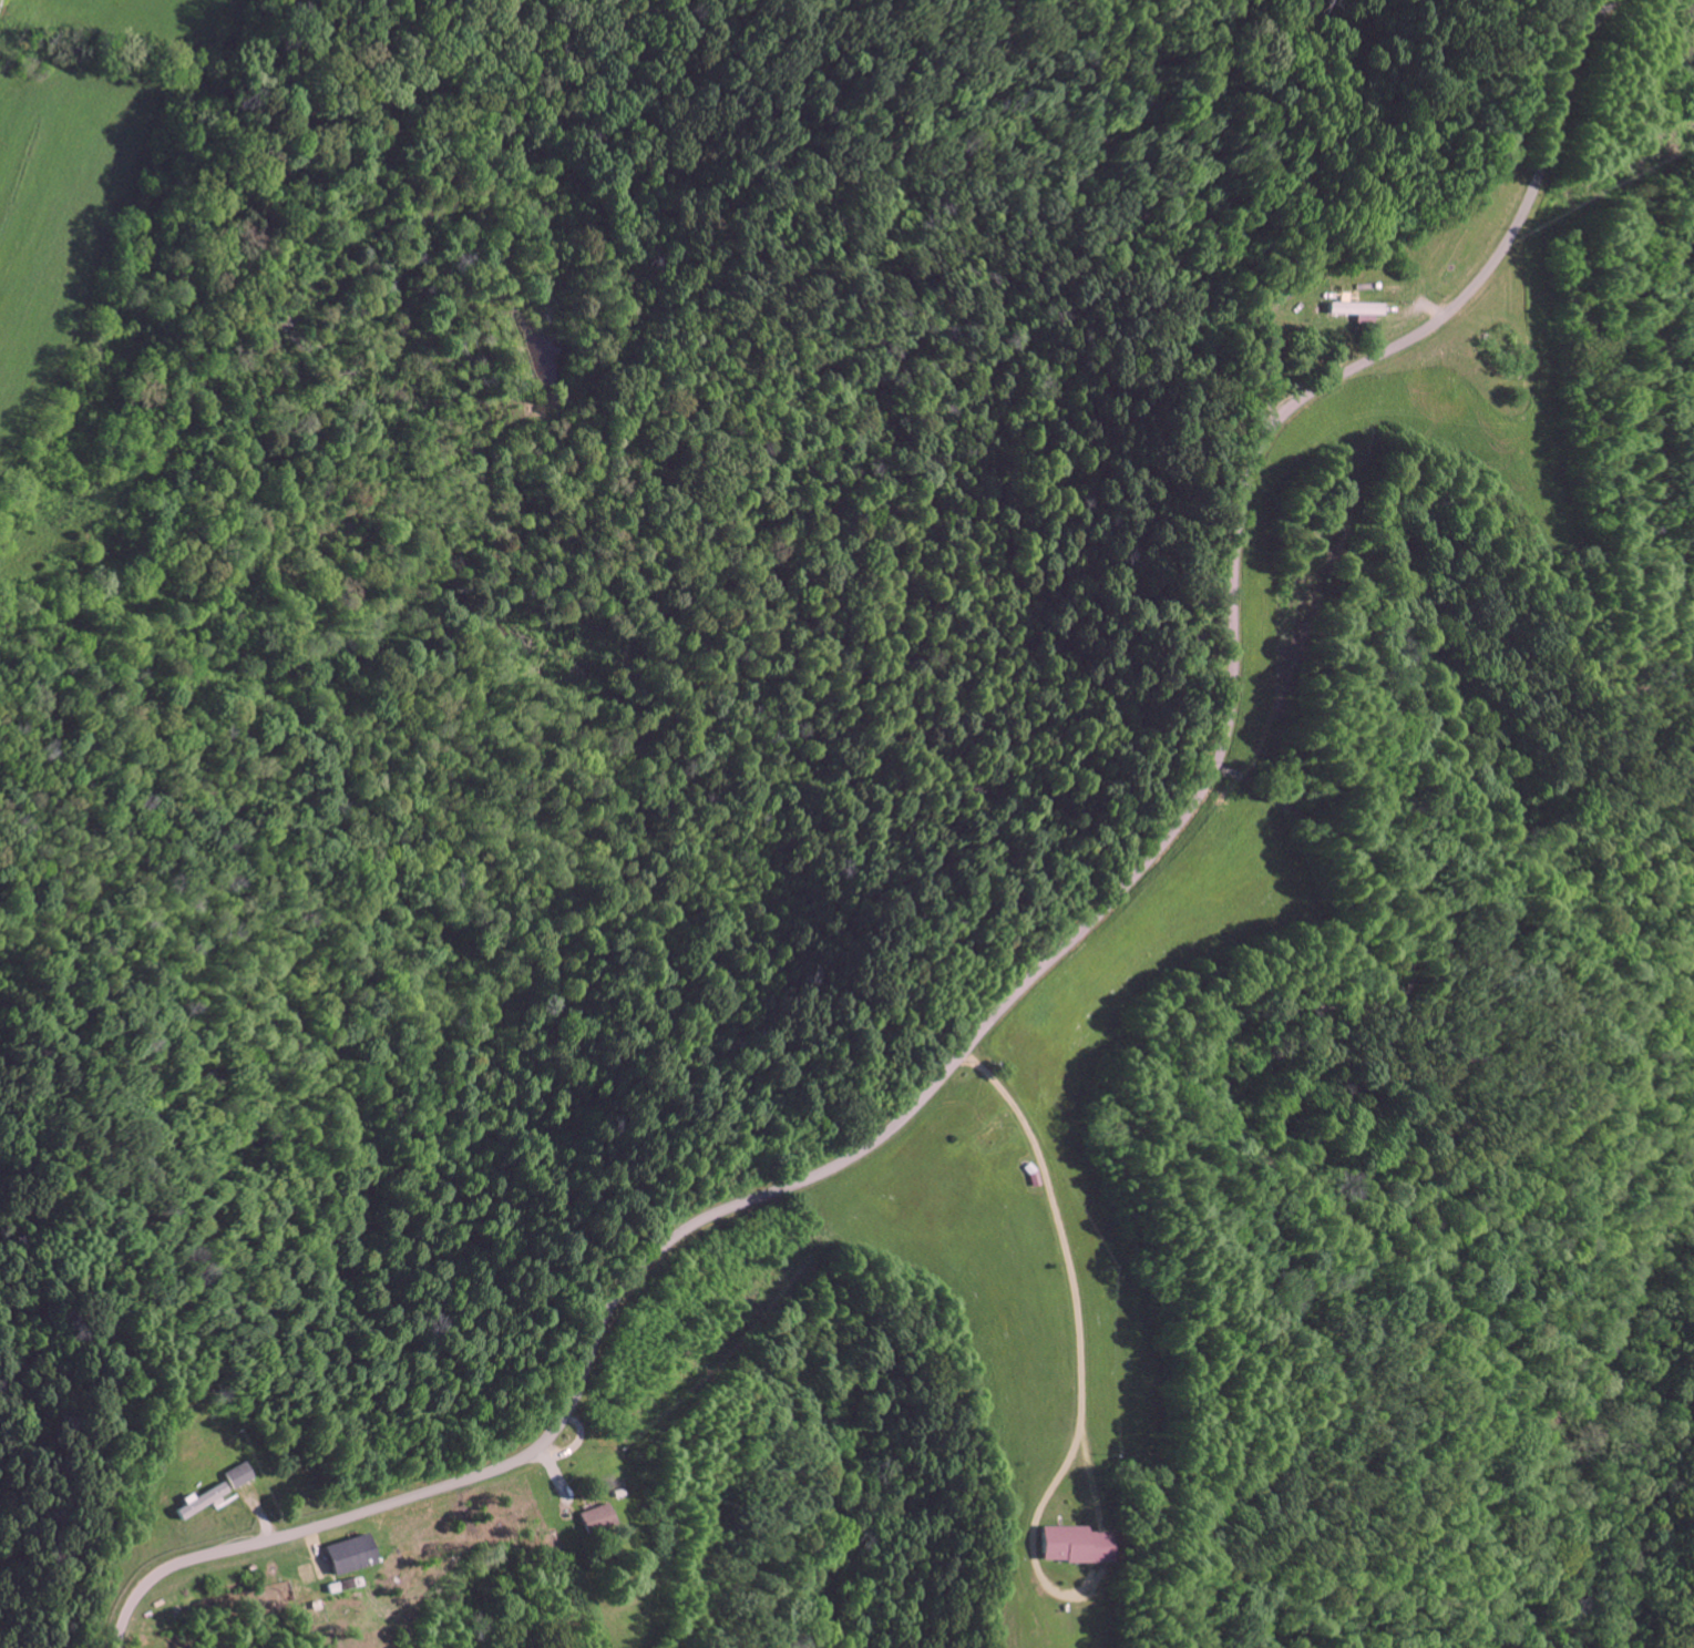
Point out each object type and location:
road: (0, 0)
building: (1352, 310)
road: (1034, 973)
building: (233, 1475)
building: (196, 1502)
building: (592, 1518)
building: (1062, 1545)
building: (342, 1555)

